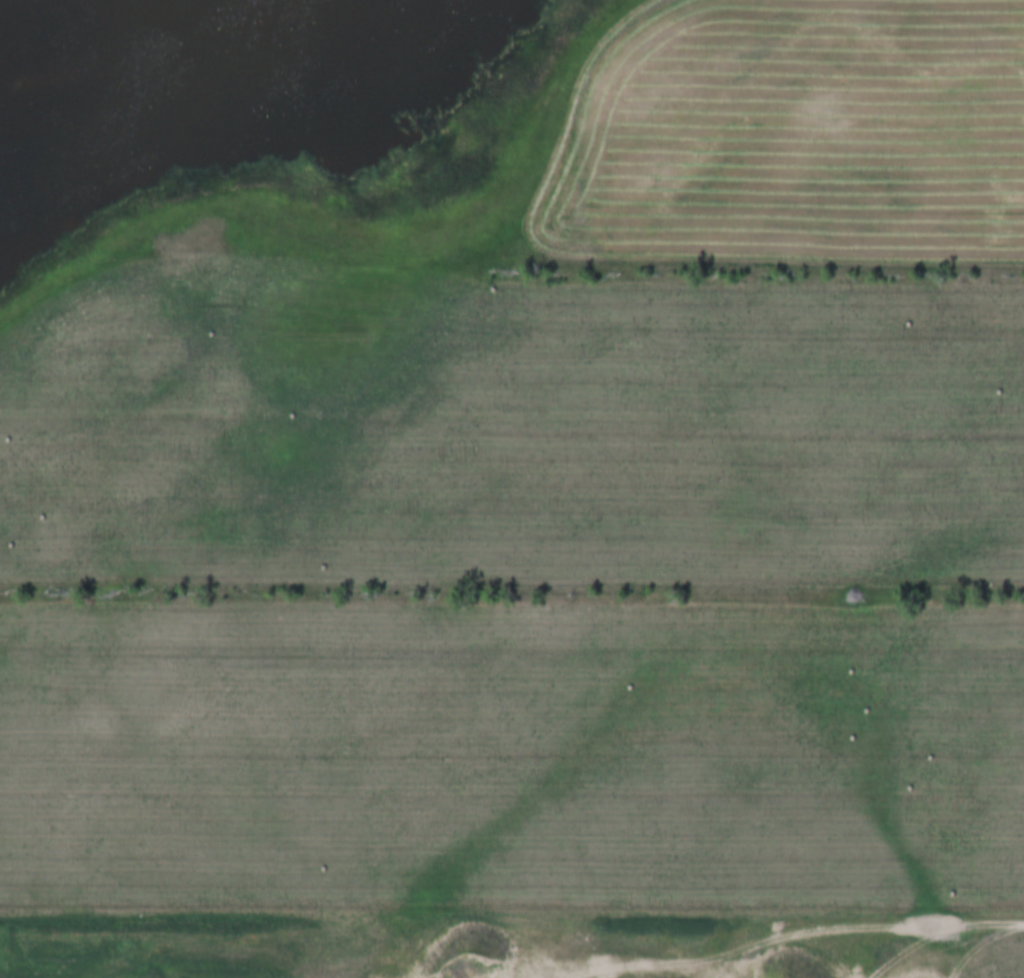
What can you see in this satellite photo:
quarry: (966, 936)

